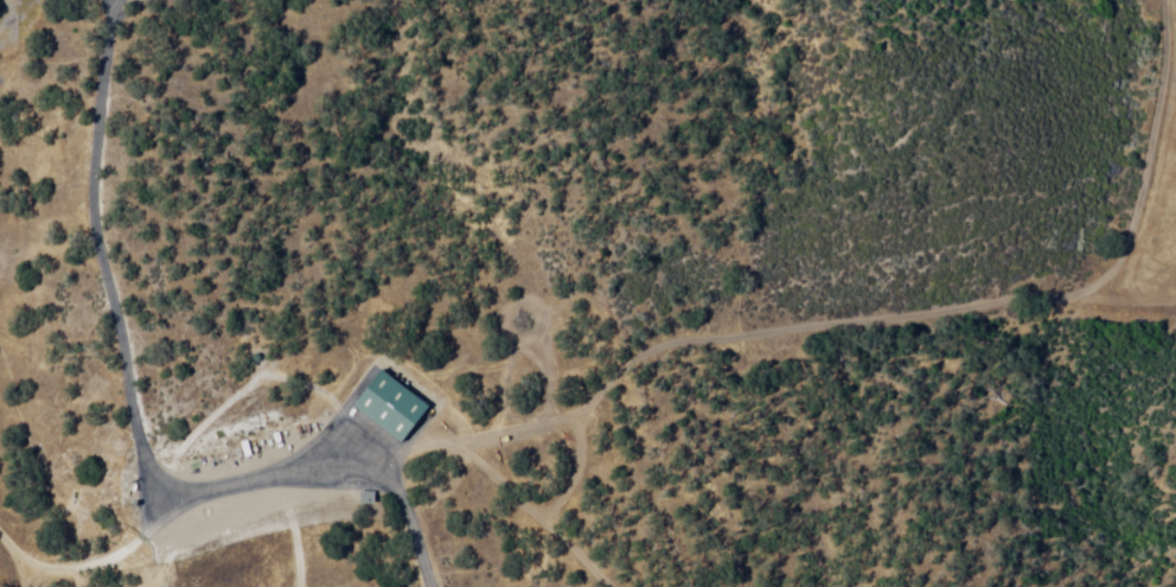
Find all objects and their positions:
road: (95, 263)
building: (392, 406)
building: (308, 442)
road: (263, 466)
building: (183, 515)
road: (19, 548)

